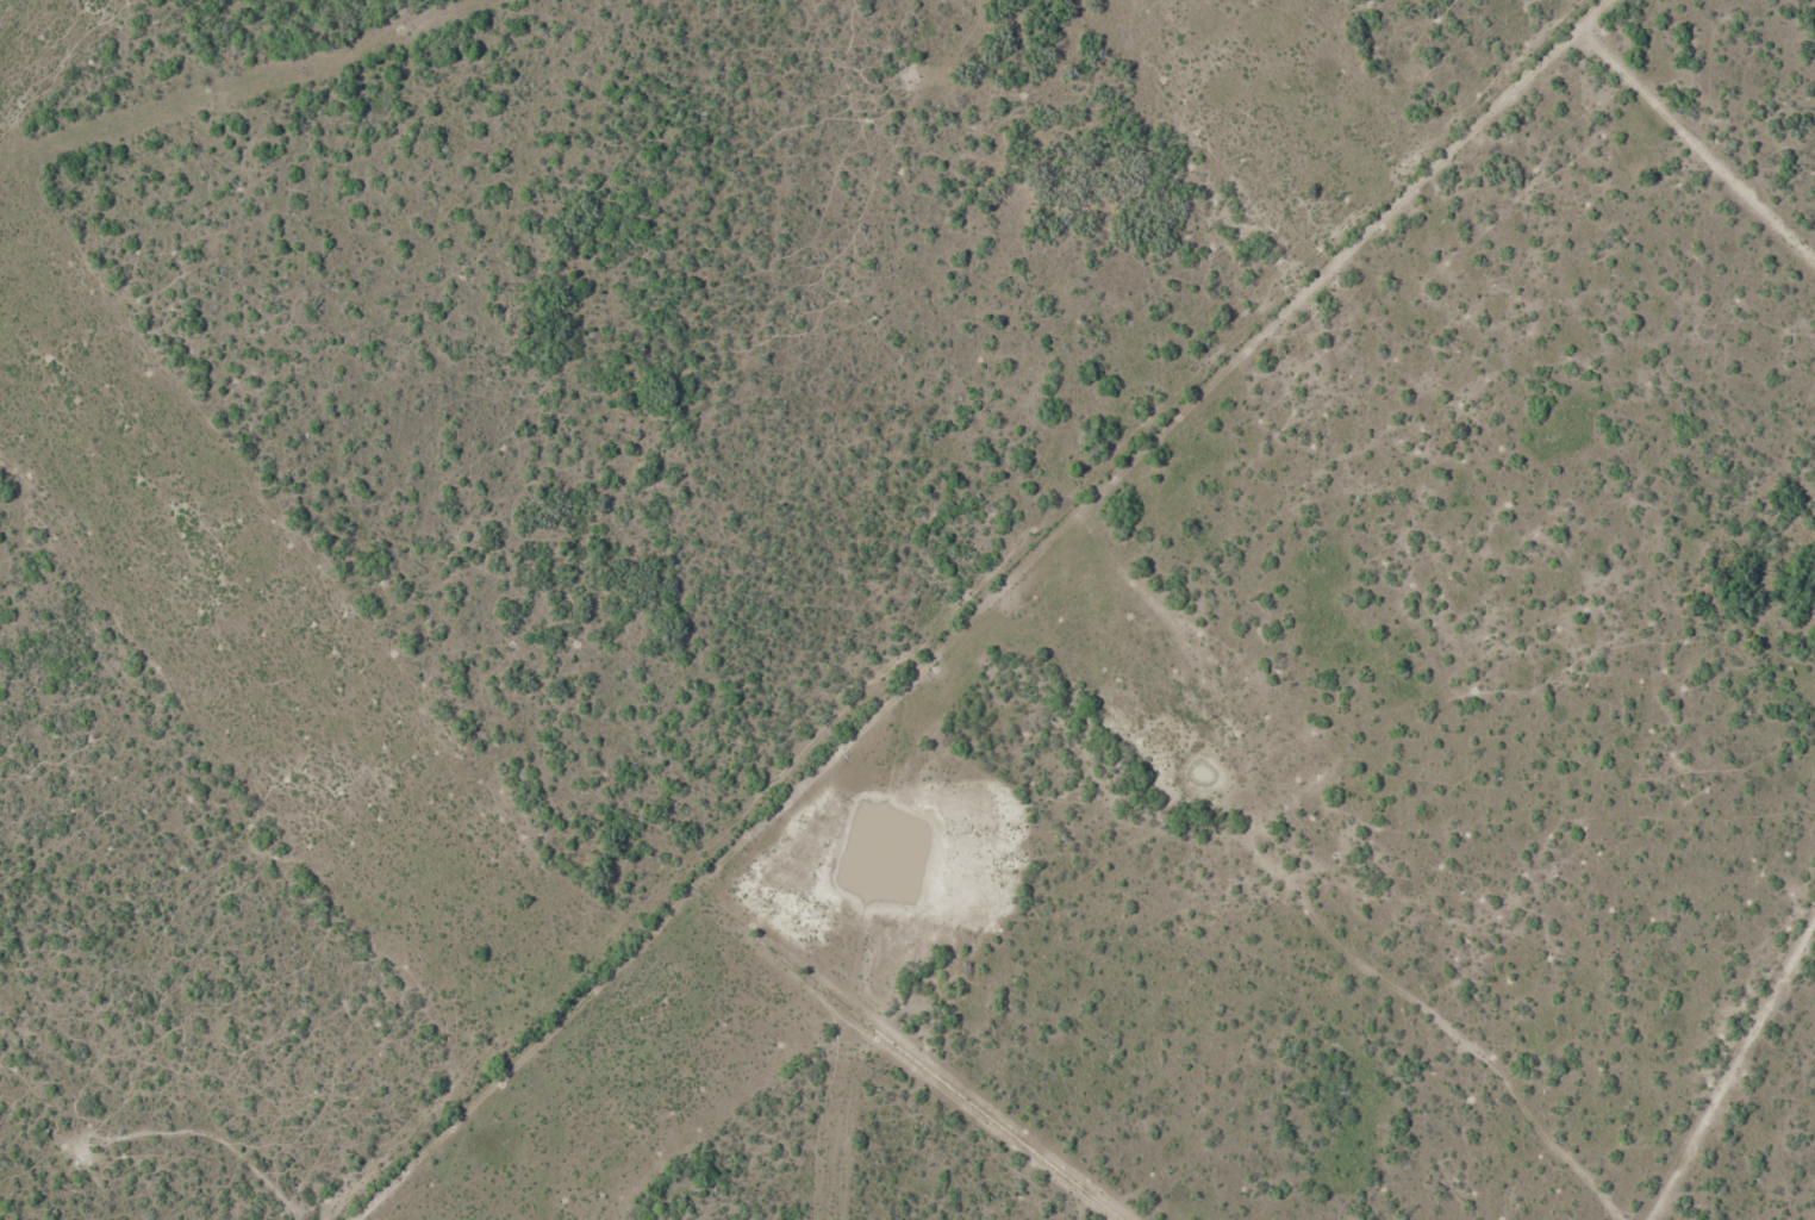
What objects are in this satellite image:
road: (1608, 31)
road: (1091, 530)

